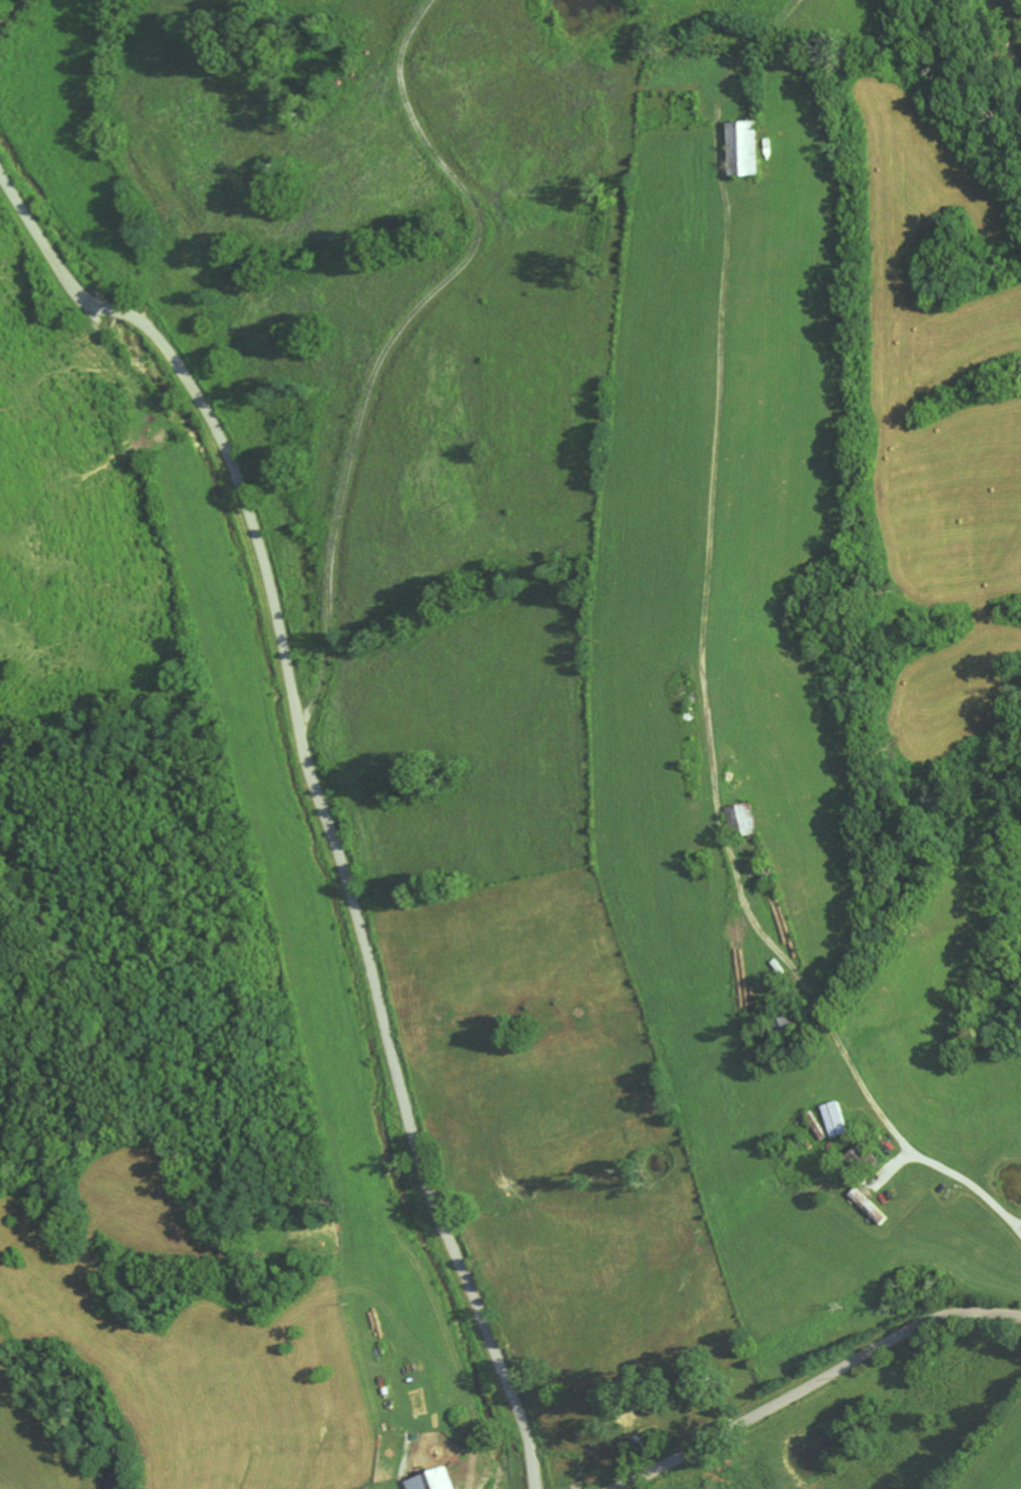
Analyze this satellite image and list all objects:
road: (297, 79)
building: (748, 148)
road: (717, 755)
road: (318, 796)
building: (747, 820)
building: (793, 1027)
building: (821, 1126)
building: (867, 1161)
building: (874, 1206)
road: (815, 1385)
road: (1007, 1471)
building: (431, 1481)

